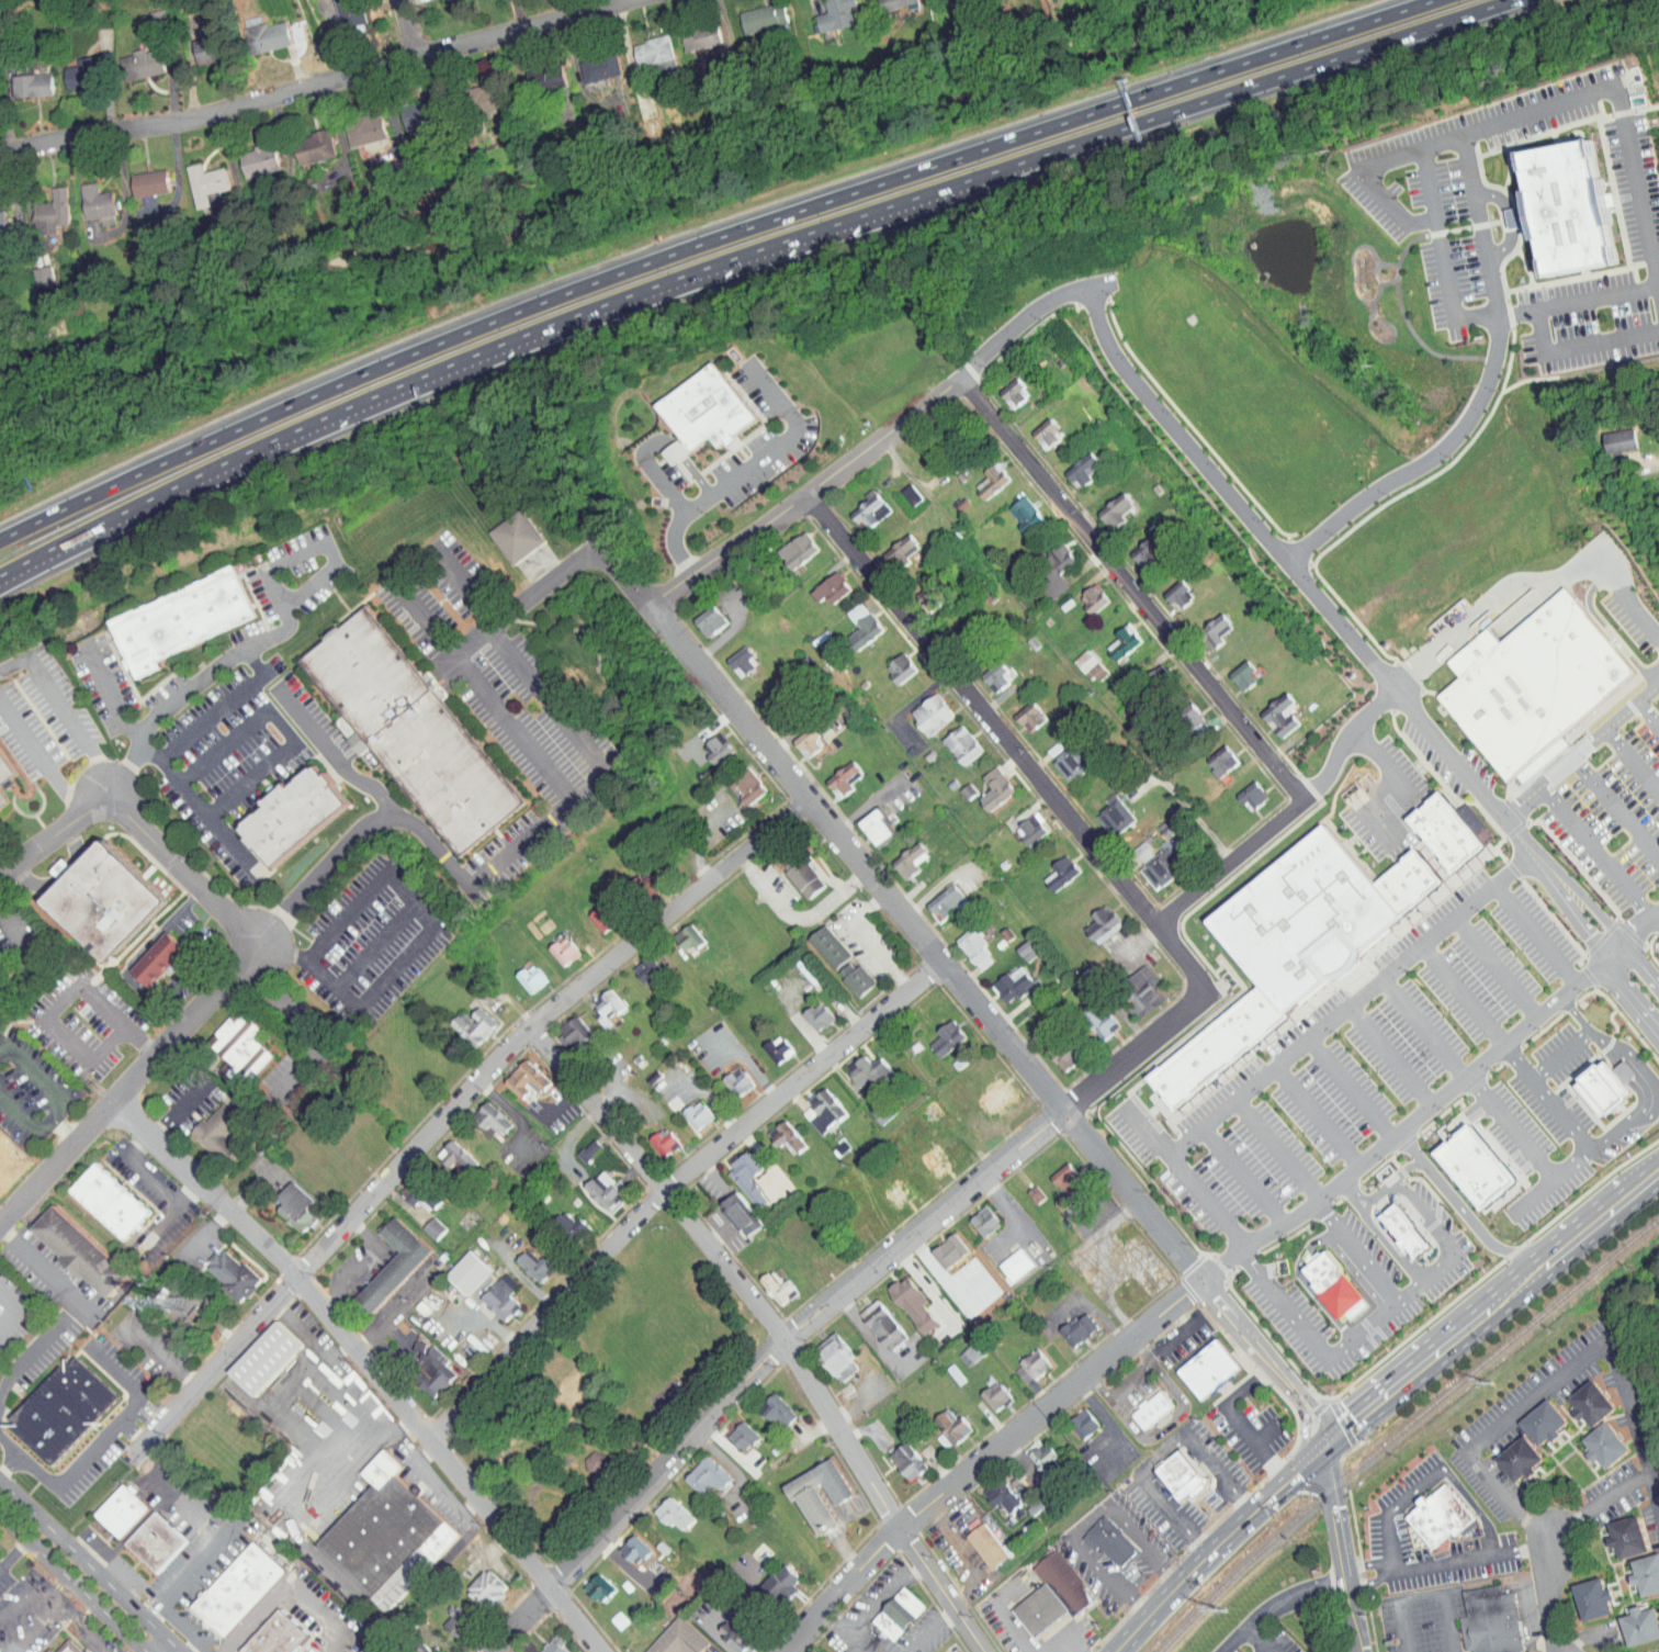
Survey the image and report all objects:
building: (877, 1)
building: (339, 9)
building: (753, 11)
building: (823, 11)
road: (411, 29)
building: (257, 30)
building: (690, 30)
building: (196, 42)
building: (644, 45)
building: (131, 56)
building: (589, 61)
building: (69, 66)
building: (533, 70)
building: (20, 78)
road: (315, 85)
building: (476, 90)
road: (1193, 104)
road: (1554, 104)
building: (407, 108)
building: (354, 123)
building: (303, 139)
building: (249, 153)
building: (138, 176)
building: (194, 176)
building: (87, 196)
building: (1558, 200)
building: (41, 205)
road: (1407, 222)
road: (706, 241)
building: (31, 269)
road: (1596, 299)
road: (1565, 346)
road: (431, 371)
building: (1003, 386)
building: (708, 409)
building: (1037, 426)
building: (1609, 434)
road: (885, 437)
building: (664, 446)
road: (677, 451)
road: (1424, 460)
building: (1073, 462)
road: (1652, 464)
road: (652, 469)
road: (741, 472)
building: (982, 473)
road: (695, 477)
building: (859, 503)
building: (1106, 503)
building: (1015, 507)
building: (518, 535)
building: (787, 543)
building: (890, 543)
building: (1139, 544)
road: (286, 562)
building: (1046, 562)
road: (411, 567)
road: (1298, 572)
road: (562, 576)
road: (1530, 581)
building: (821, 582)
building: (1167, 588)
road: (1132, 589)
building: (1083, 591)
building: (918, 592)
building: (700, 614)
building: (183, 621)
building: (1206, 621)
building: (855, 623)
building: (1113, 636)
building: (730, 654)
building: (890, 661)
road: (258, 666)
building: (986, 668)
building: (1233, 670)
building: (1535, 685)
building: (760, 694)
building: (921, 707)
building: (1269, 708)
building: (1018, 710)
building: (1181, 710)
road: (61, 712)
road: (1650, 713)
road: (566, 715)
road: (126, 721)
road: (280, 724)
building: (411, 731)
building: (801, 738)
building: (951, 738)
road: (1011, 741)
building: (707, 742)
road: (1343, 742)
building: (1211, 754)
road: (1579, 754)
road: (330, 755)
building: (1061, 755)
road: (39, 758)
road: (1634, 758)
road: (1383, 763)
building: (5, 765)
building: (833, 773)
building: (735, 779)
road: (554, 780)
building: (984, 783)
building: (1241, 789)
building: (2, 799)
road: (1362, 805)
road: (1186, 806)
road: (868, 807)
building: (1104, 808)
road: (1616, 810)
building: (295, 813)
road: (205, 816)
building: (867, 821)
building: (1020, 823)
road: (57, 830)
road: (357, 831)
building: (1446, 831)
road: (1598, 852)
building: (900, 854)
building: (1150, 862)
road: (1230, 862)
building: (48, 865)
building: (790, 867)
building: (1050, 867)
building: (1409, 881)
building: (935, 896)
road: (1569, 900)
building: (105, 901)
building: (591, 911)
building: (1306, 917)
building: (1092, 918)
building: (677, 931)
road: (1533, 932)
road: (1140, 937)
building: (817, 941)
road: (417, 943)
building: (964, 943)
building: (1017, 943)
building: (553, 944)
road: (373, 946)
building: (147, 953)
road: (29, 954)
building: (162, 959)
building: (637, 964)
road: (1492, 966)
road: (1640, 966)
building: (520, 971)
building: (844, 973)
building: (1005, 978)
building: (1130, 985)
road: (143, 992)
road: (1462, 992)
road: (972, 996)
road: (1630, 996)
building: (596, 1000)
road: (58, 1003)
road: (201, 1003)
building: (808, 1010)
road: (1573, 1013)
building: (1090, 1016)
building: (463, 1019)
road: (1422, 1025)
building: (561, 1027)
road: (302, 1030)
building: (937, 1032)
road: (1304, 1041)
building: (229, 1043)
building: (767, 1043)
building: (1050, 1046)
building: (1220, 1046)
road: (1560, 1053)
road: (1388, 1055)
building: (858, 1065)
building: (516, 1074)
building: (726, 1076)
road: (1350, 1087)
building: (1604, 1087)
building: (983, 1088)
road: (1651, 1088)
road: (561, 1102)
road: (1433, 1102)
road: (59, 1105)
road: (182, 1105)
building: (811, 1105)
building: (918, 1105)
road: (456, 1108)
building: (687, 1109)
building: (481, 1113)
road: (1318, 1115)
road: (516, 1117)
building: (204, 1125)
building: (218, 1130)
building: (776, 1130)
road: (1148, 1130)
road: (65, 1133)
building: (654, 1135)
building: (576, 1144)
road: (1278, 1149)
building: (445, 1151)
building: (925, 1156)
road: (1570, 1161)
building: (1475, 1165)
road: (1407, 1167)
building: (736, 1172)
road: (1244, 1176)
building: (1057, 1179)
building: (594, 1183)
road: (673, 1184)
building: (885, 1188)
building: (1024, 1188)
road: (1404, 1189)
building: (407, 1190)
road: (1348, 1194)
road: (1530, 1195)
building: (111, 1201)
building: (284, 1201)
building: (298, 1205)
building: (730, 1209)
road: (1462, 1211)
building: (973, 1215)
building: (560, 1221)
building: (422, 1222)
building: (1407, 1230)
building: (938, 1246)
building: (81, 1251)
road: (1354, 1254)
building: (383, 1259)
building: (1004, 1259)
building: (522, 1260)
road: (362, 1263)
building: (456, 1266)
road: (44, 1270)
building: (236, 1274)
building: (766, 1281)
road: (1305, 1282)
building: (1335, 1284)
building: (490, 1292)
road: (828, 1297)
building: (901, 1297)
road: (1492, 1305)
road: (12, 1312)
building: (179, 1312)
building: (1654, 1315)
building: (871, 1318)
building: (1068, 1324)
road: (774, 1326)
road: (1312, 1337)
building: (960, 1347)
building: (826, 1350)
road: (26, 1355)
road: (1585, 1355)
building: (267, 1357)
building: (1020, 1361)
building: (1197, 1362)
road: (371, 1363)
building: (984, 1390)
building: (1140, 1403)
building: (1594, 1403)
building: (767, 1406)
road: (1311, 1407)
building: (65, 1408)
building: (1073, 1417)
building: (941, 1419)
road: (1235, 1420)
road: (1302, 1421)
building: (1546, 1421)
railway: (1401, 1428)
building: (733, 1430)
road: (131, 1431)
road: (104, 1432)
road: (1264, 1432)
traffic signals: (1327, 1441)
building: (1607, 1443)
road: (1149, 1447)
road: (16, 1452)
building: (1032, 1452)
road: (1314, 1453)
building: (896, 1456)
building: (584, 1457)
road: (988, 1459)
building: (1522, 1459)
building: (910, 1462)
building: (696, 1471)
building: (1181, 1476)
road: (1454, 1481)
road: (1654, 1485)
building: (992, 1490)
building: (823, 1493)
building: (120, 1510)
building: (1441, 1516)
road: (1074, 1517)
building: (1617, 1531)
building: (390, 1533)
building: (978, 1540)
building: (157, 1542)
building: (1111, 1542)
road: (1387, 1542)
building: (623, 1544)
road: (1340, 1547)
road: (13, 1554)
road: (1209, 1558)
road: (1472, 1559)
road: (1367, 1565)
road: (88, 1566)
building: (1639, 1569)
road: (187, 1575)
building: (770, 1576)
building: (1053, 1577)
road: (71, 1582)
building: (587, 1582)
road: (1369, 1582)
building: (475, 1583)
road: (57, 1585)
road: (291, 1585)
building: (239, 1587)
road: (1422, 1593)
building: (1582, 1593)
road: (1547, 1594)
road: (882, 1597)
road: (52, 1598)
building: (1028, 1604)
road: (1278, 1604)
building: (887, 1609)
road: (68, 1612)
building: (444, 1615)
building: (900, 1615)
building: (1480, 1617)
building: (1630, 1620)
road: (78, 1629)
road: (1015, 1629)
building: (730, 1630)
road: (932, 1631)
road: (846, 1632)
building: (278, 1636)
building: (682, 1639)
road: (1263, 1639)
building: (543, 1642)
road: (1064, 1643)
building: (413, 1645)
building: (69, 1647)
road: (162, 1648)
building: (371, 1648)
building: (804, 1650)
building: (49, 1651)

